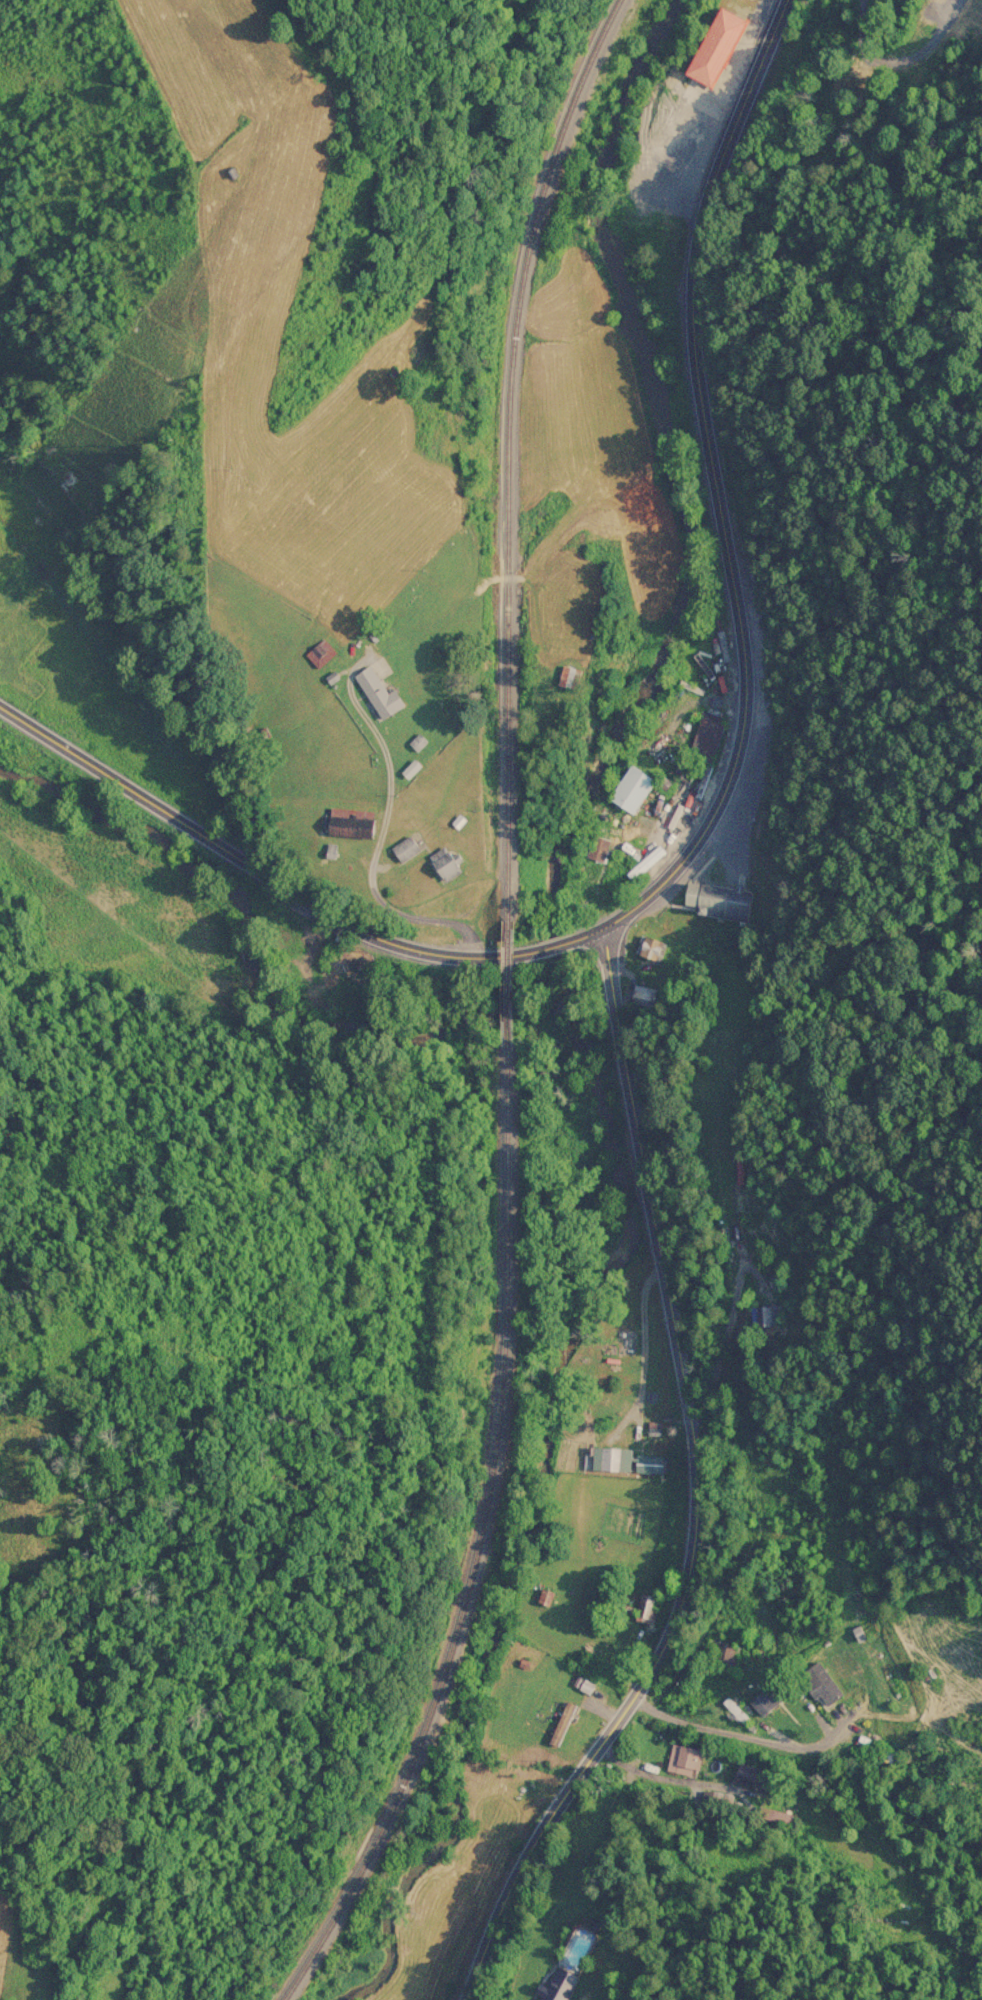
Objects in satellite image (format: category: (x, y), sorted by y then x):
building: (711, 46)
road: (903, 61)
railway: (509, 449)
road: (723, 489)
building: (318, 652)
building: (563, 676)
building: (374, 691)
building: (698, 745)
building: (629, 790)
building: (347, 821)
building: (402, 847)
road: (375, 850)
road: (250, 863)
building: (439, 863)
building: (591, 864)
road: (558, 945)
building: (648, 945)
railway: (501, 985)
river: (560, 1016)
building: (769, 1314)
road: (719, 1365)
building: (619, 1459)
road: (695, 1491)
railway: (478, 1545)
building: (544, 1595)
building: (651, 1607)
building: (722, 1651)
building: (819, 1682)
building: (763, 1698)
building: (734, 1709)
building: (561, 1722)
building: (683, 1759)
building: (749, 1776)
building: (775, 1814)

